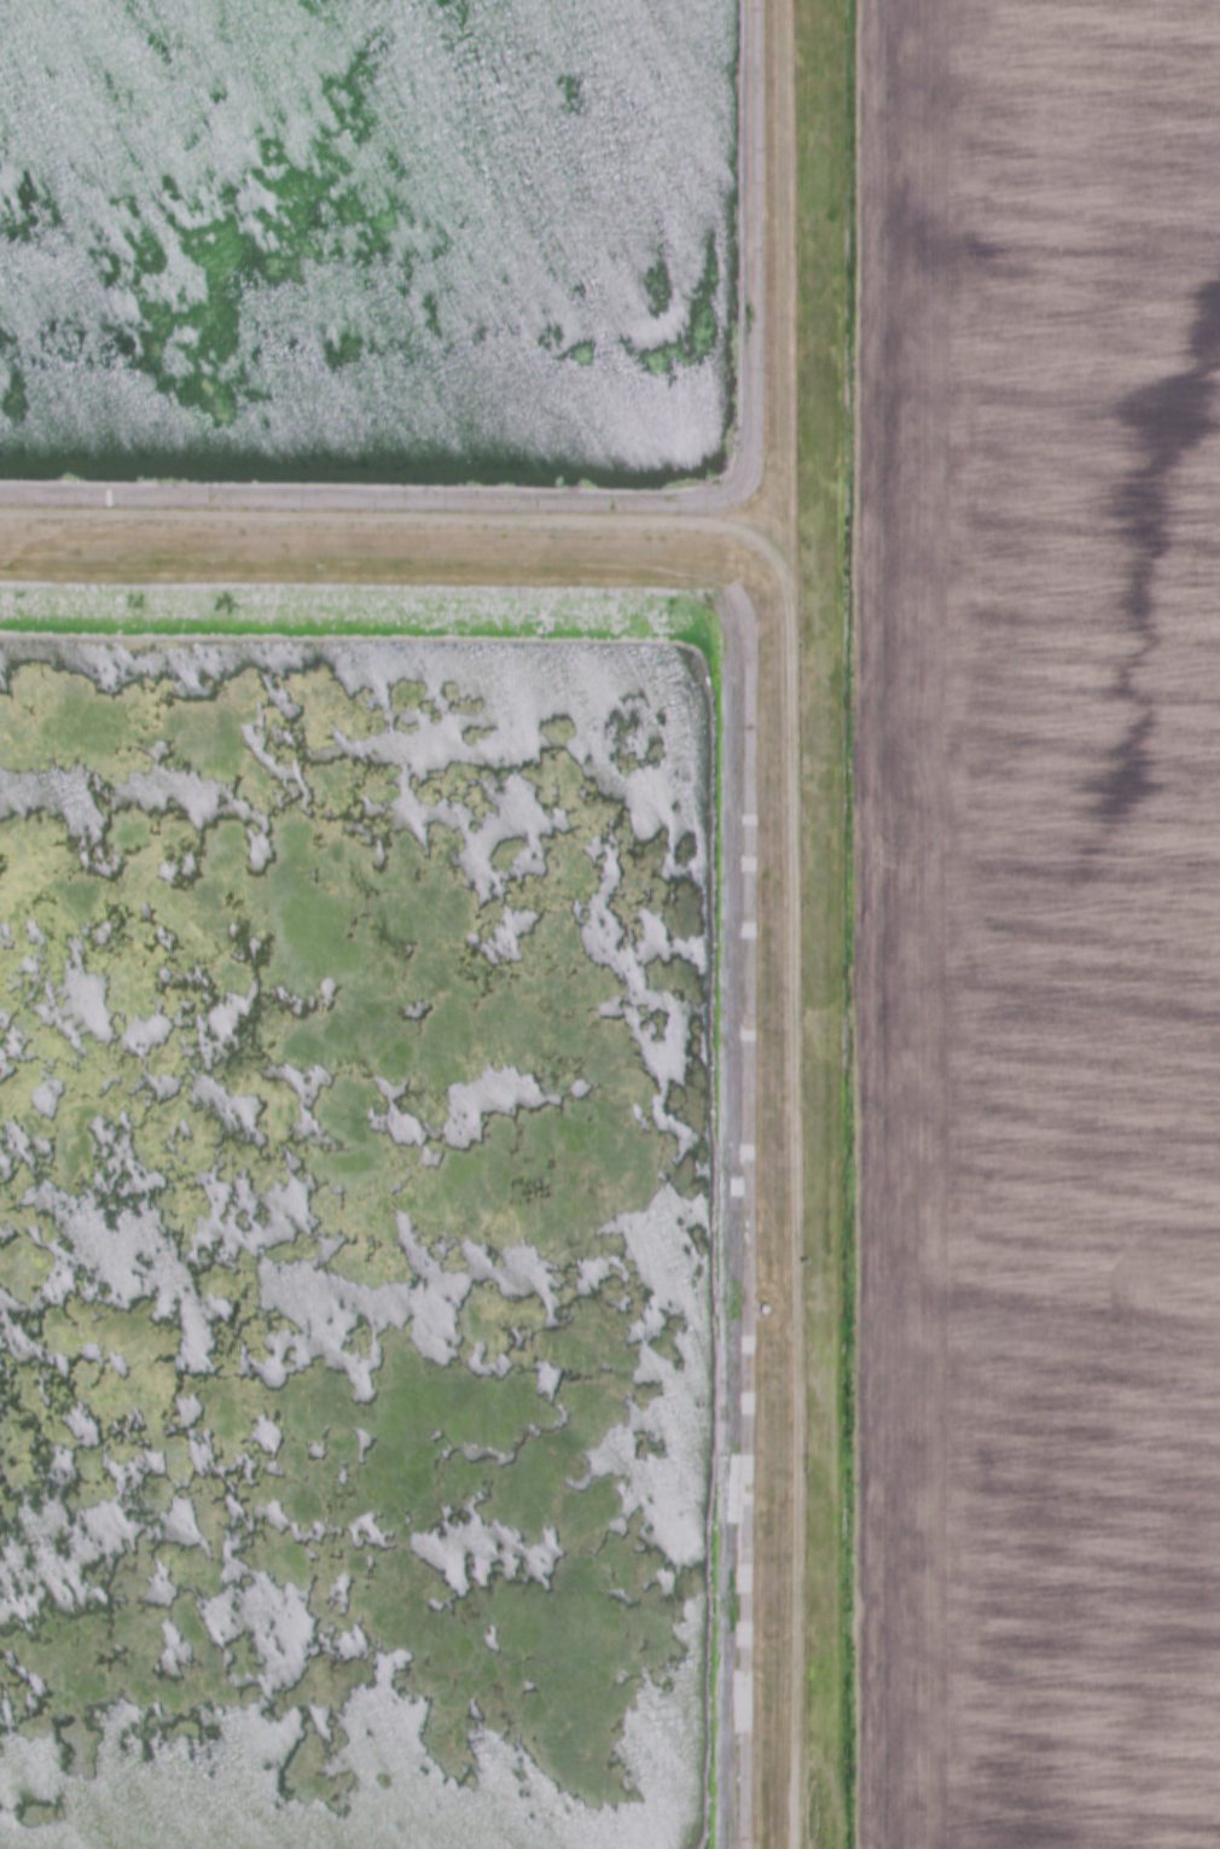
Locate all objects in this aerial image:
road: (788, 809)
crop: (1036, 925)
wastewater plant: (399, 926)

